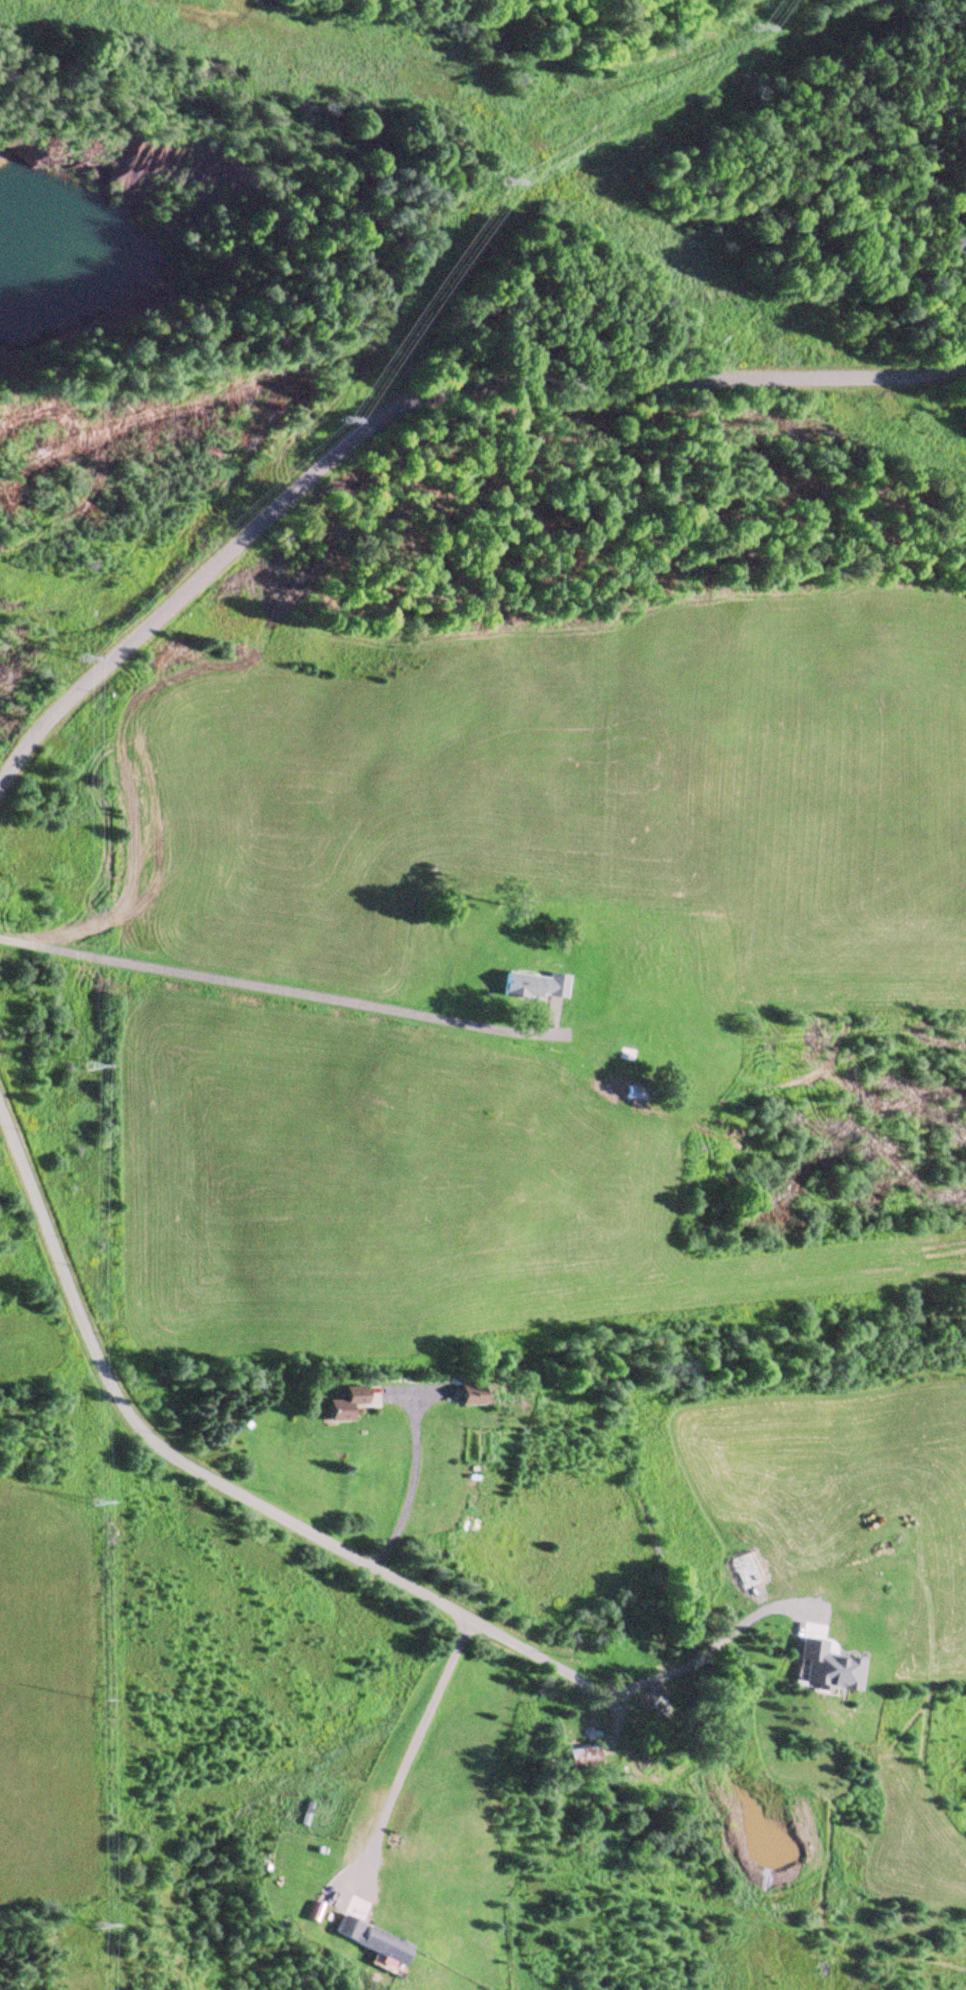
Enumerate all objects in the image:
power tower: (749, 25)
power tower: (497, 174)
power tower: (332, 417)
road: (418, 426)
power tower: (79, 655)
building: (529, 986)
road: (276, 991)
building: (621, 1055)
power tower: (80, 1067)
building: (465, 1396)
building: (336, 1405)
road: (201, 1474)
power tower: (87, 1503)
building: (641, 1701)
building: (576, 1711)
building: (572, 1761)
power tower: (89, 1931)
building: (363, 1941)

